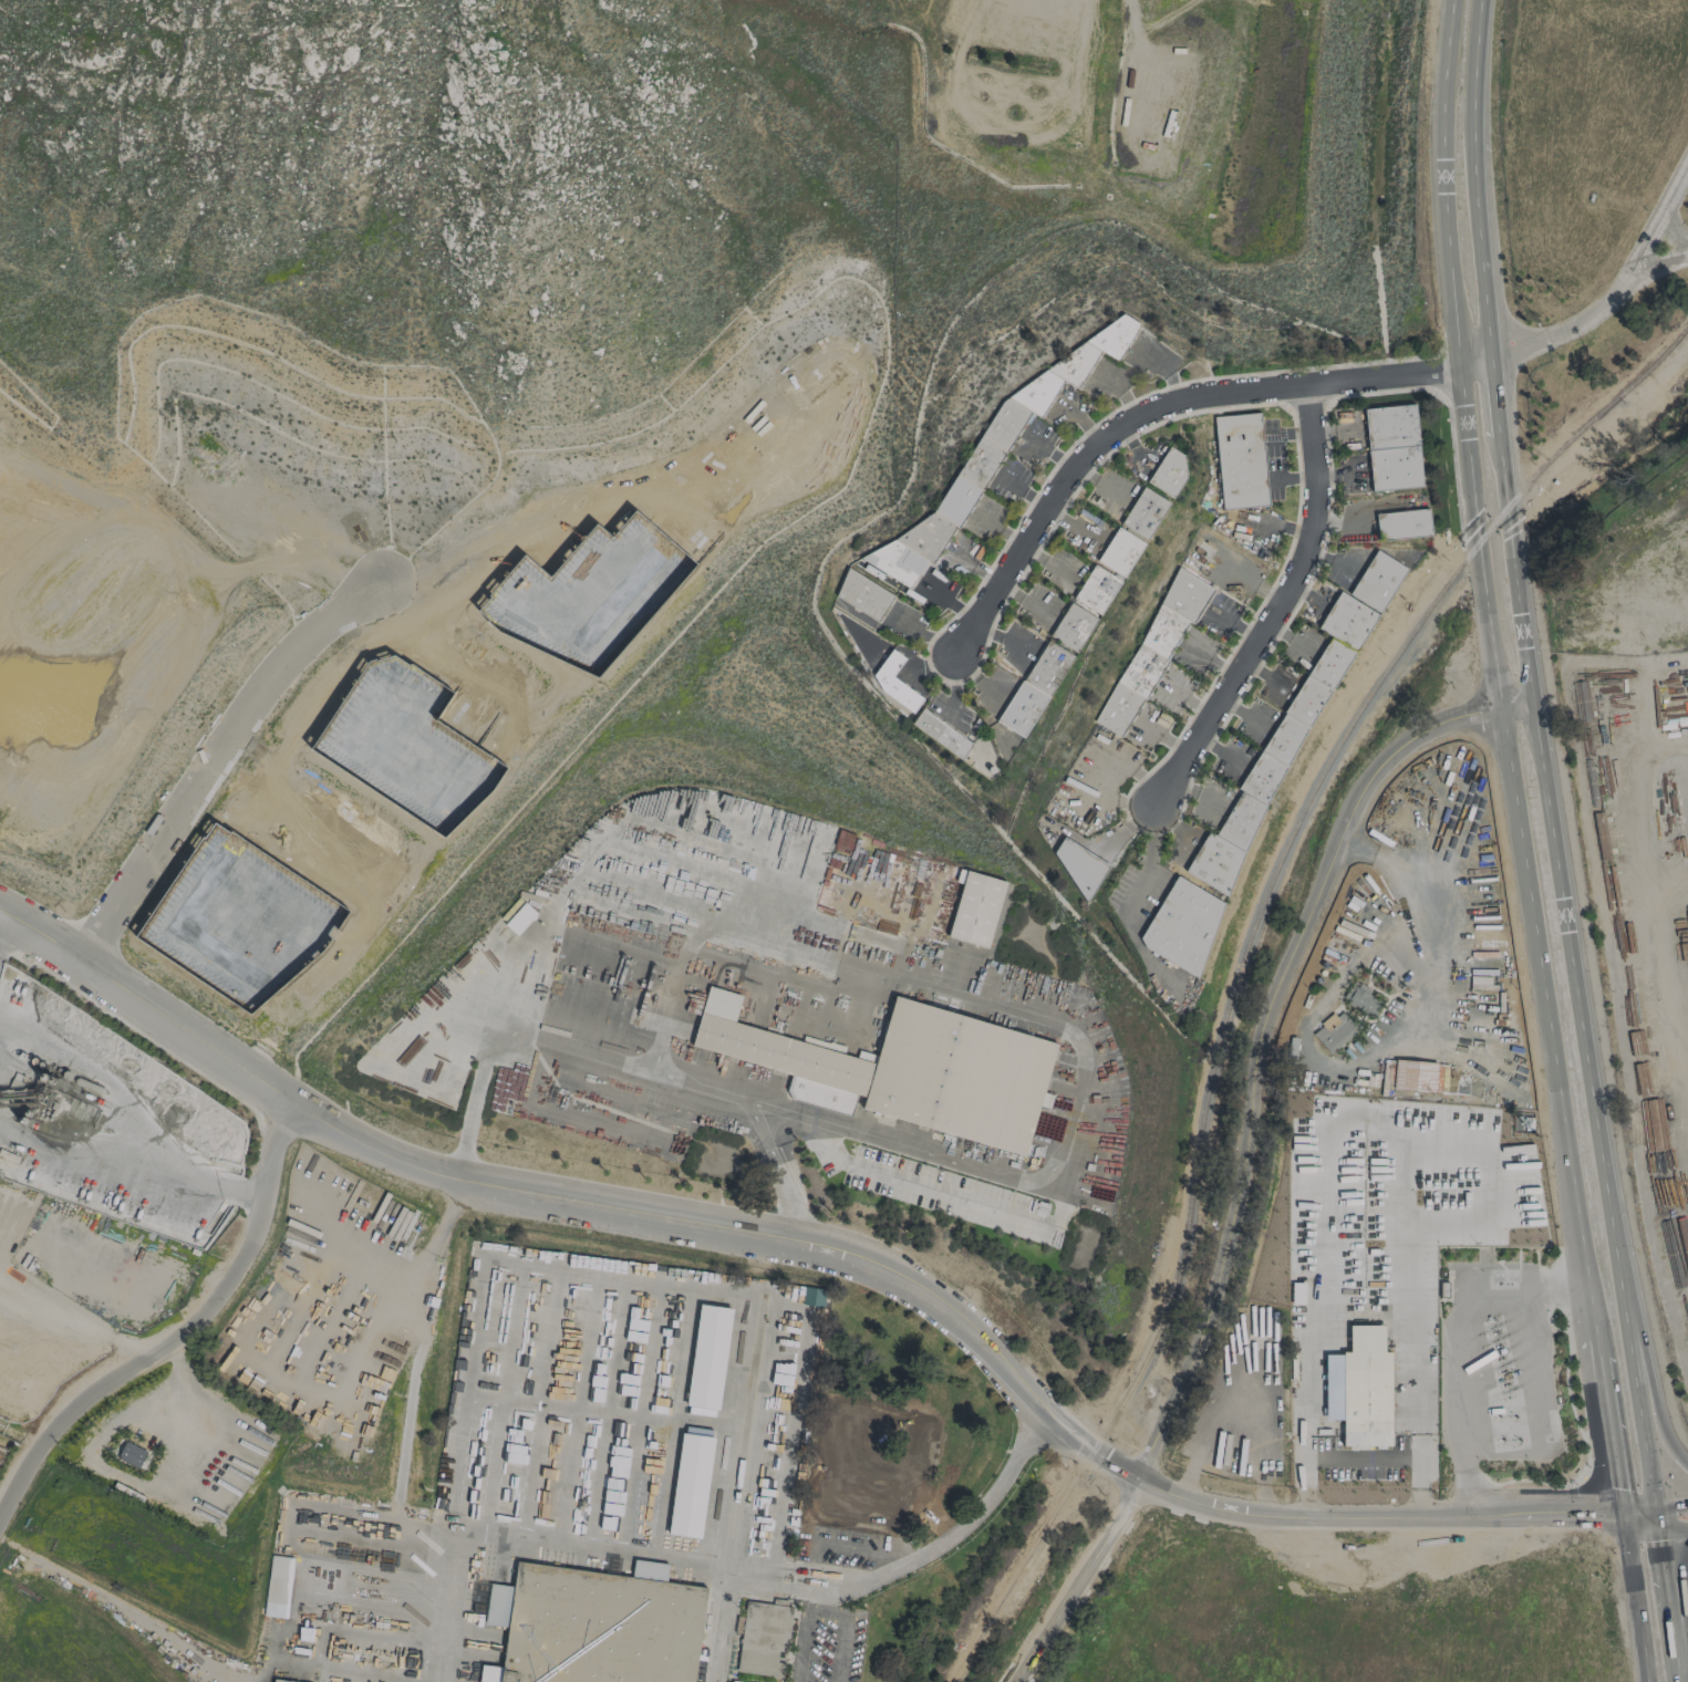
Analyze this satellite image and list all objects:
road: (1474, 183)
road: (1670, 239)
road: (1618, 294)
road: (1494, 401)
road: (1167, 414)
building: (1391, 447)
building: (993, 453)
building: (1240, 460)
building: (1168, 470)
building: (1402, 525)
building: (1131, 531)
building: (1096, 590)
building: (862, 594)
road: (1280, 611)
building: (1071, 626)
road: (1491, 645)
building: (1151, 653)
building: (892, 683)
building: (1034, 688)
road: (1246, 712)
building: (1291, 728)
building: (941, 734)
road: (218, 760)
road: (1679, 779)
road: (1150, 854)
building: (1077, 864)
road: (570, 880)
road: (1563, 905)
building: (974, 907)
building: (519, 918)
road: (1413, 922)
building: (1182, 924)
road: (4, 927)
road: (1655, 934)
railway: (1240, 963)
building: (1360, 999)
road: (1034, 1018)
building: (1334, 1030)
road: (548, 1041)
building: (903, 1069)
building: (1413, 1074)
road: (103, 1077)
road: (1243, 1152)
road: (132, 1172)
quarry: (87, 1173)
road: (1328, 1173)
road: (778, 1174)
road: (443, 1217)
road: (783, 1244)
road: (598, 1277)
building: (1296, 1292)
road: (186, 1328)
road: (1366, 1340)
road: (1460, 1347)
building: (707, 1357)
road: (281, 1369)
road: (180, 1373)
building: (1365, 1389)
road: (501, 1399)
road: (1605, 1401)
road: (538, 1404)
road: (578, 1410)
road: (601, 1410)
road: (1307, 1410)
road: (605, 1413)
road: (1418, 1415)
road: (639, 1418)
road: (1659, 1421)
road: (1645, 1440)
building: (131, 1454)
road: (1364, 1458)
building: (690, 1486)
railway: (737, 1489)
road: (1671, 1506)
traffic signals: (1655, 1507)
road: (1638, 1512)
road: (1592, 1517)
traffic signals: (1623, 1517)
road: (1657, 1519)
road: (287, 1523)
road: (1640, 1525)
traffic signals: (1659, 1533)
road: (1674, 1533)
road: (843, 1546)
road: (1664, 1565)
road: (382, 1576)
road: (808, 1579)
building: (278, 1586)
road: (825, 1593)
road: (1636, 1599)
road: (452, 1605)
road: (825, 1606)
road: (372, 1607)
building: (597, 1624)
building: (763, 1638)
road: (1675, 1640)
road: (325, 1667)
building: (280, 1681)

